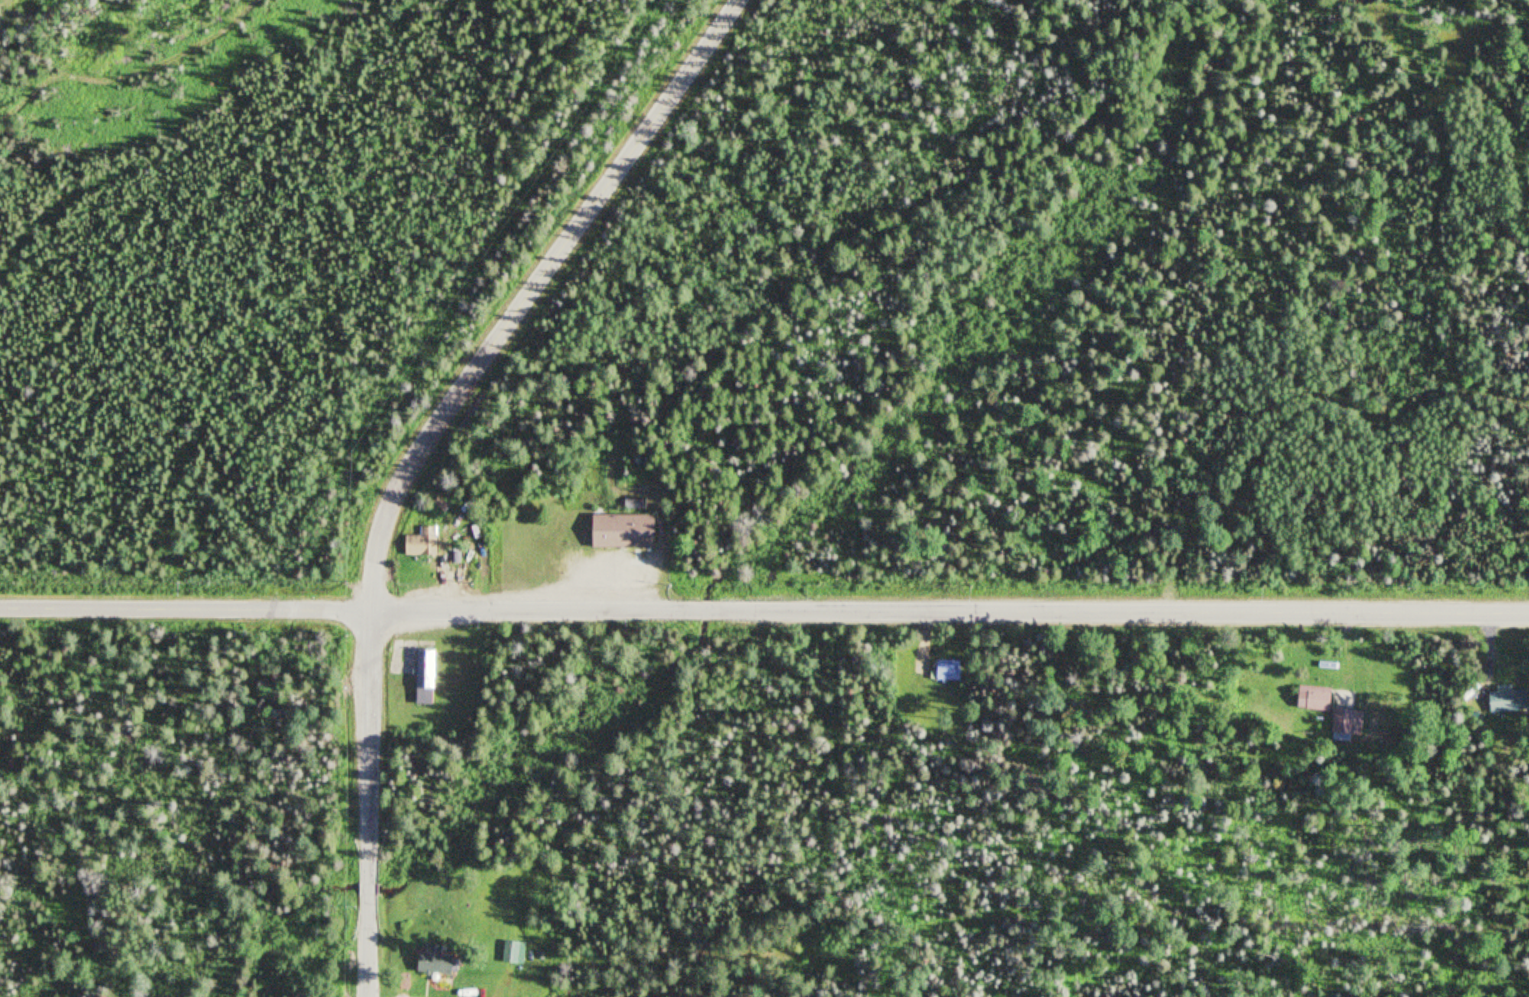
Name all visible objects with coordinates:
road: (526, 293)
building: (631, 504)
building: (618, 533)
building: (422, 544)
road: (183, 608)
road: (948, 609)
building: (945, 672)
building: (421, 676)
park: (923, 692)
building: (1310, 697)
building: (1506, 700)
building: (1345, 721)
road: (368, 803)
building: (432, 959)

